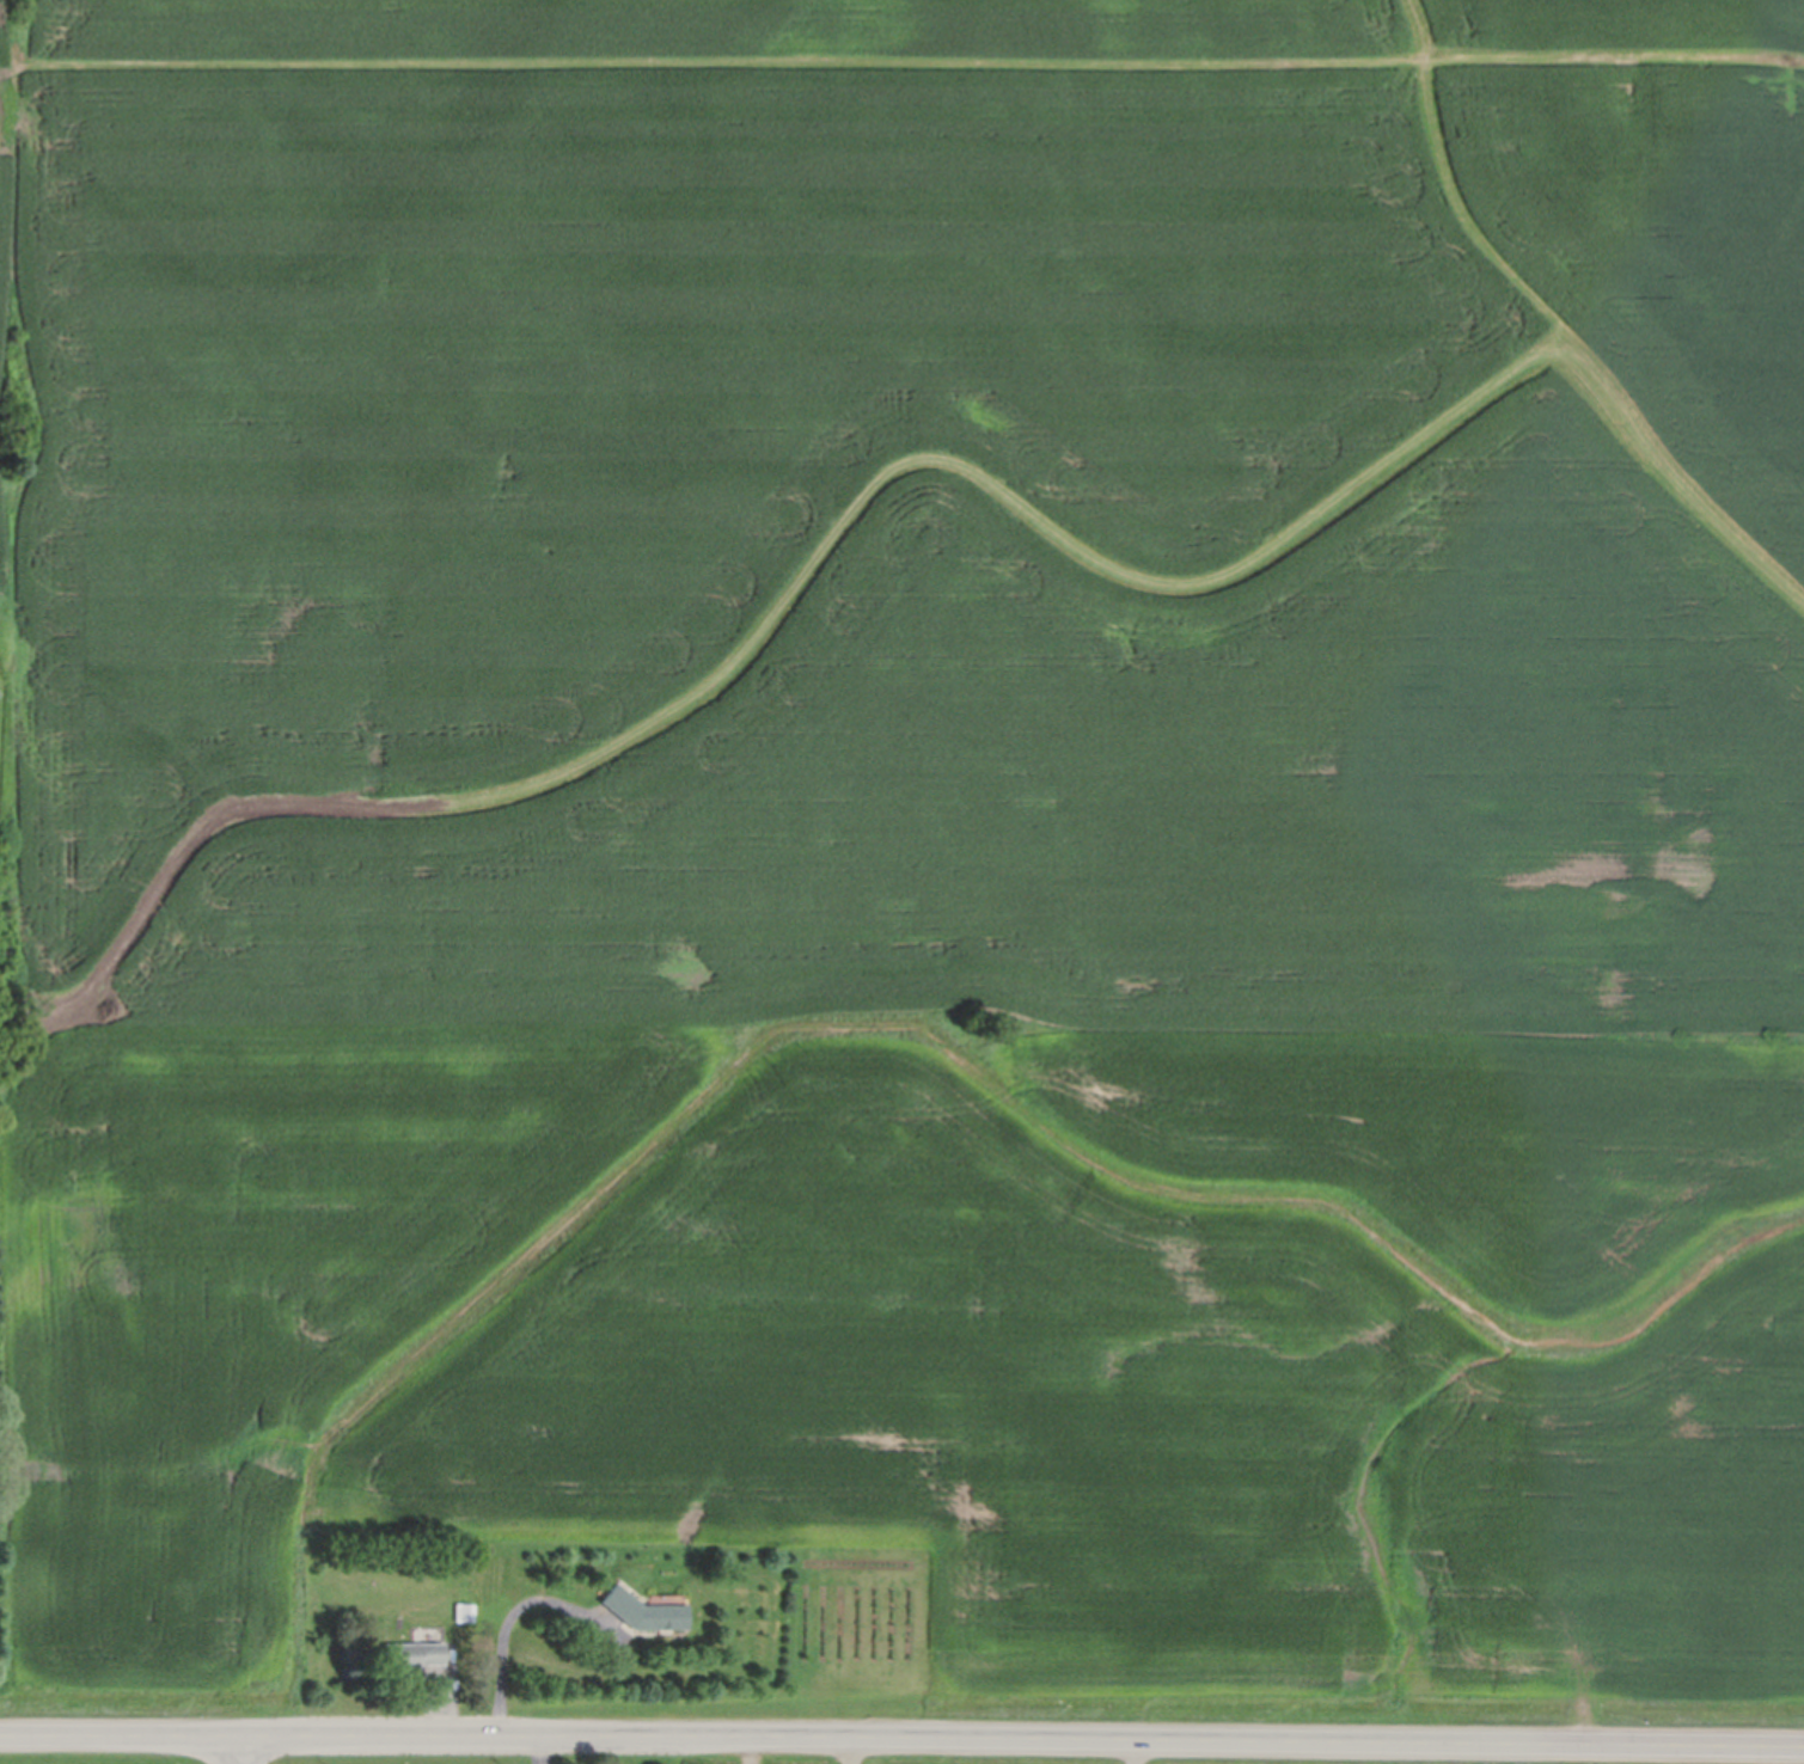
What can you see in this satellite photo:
building: (373, 1579)
building: (643, 1606)
building: (464, 1609)
road: (504, 1621)
building: (411, 1650)
road: (901, 1740)
road: (244, 1751)
road: (857, 1752)

